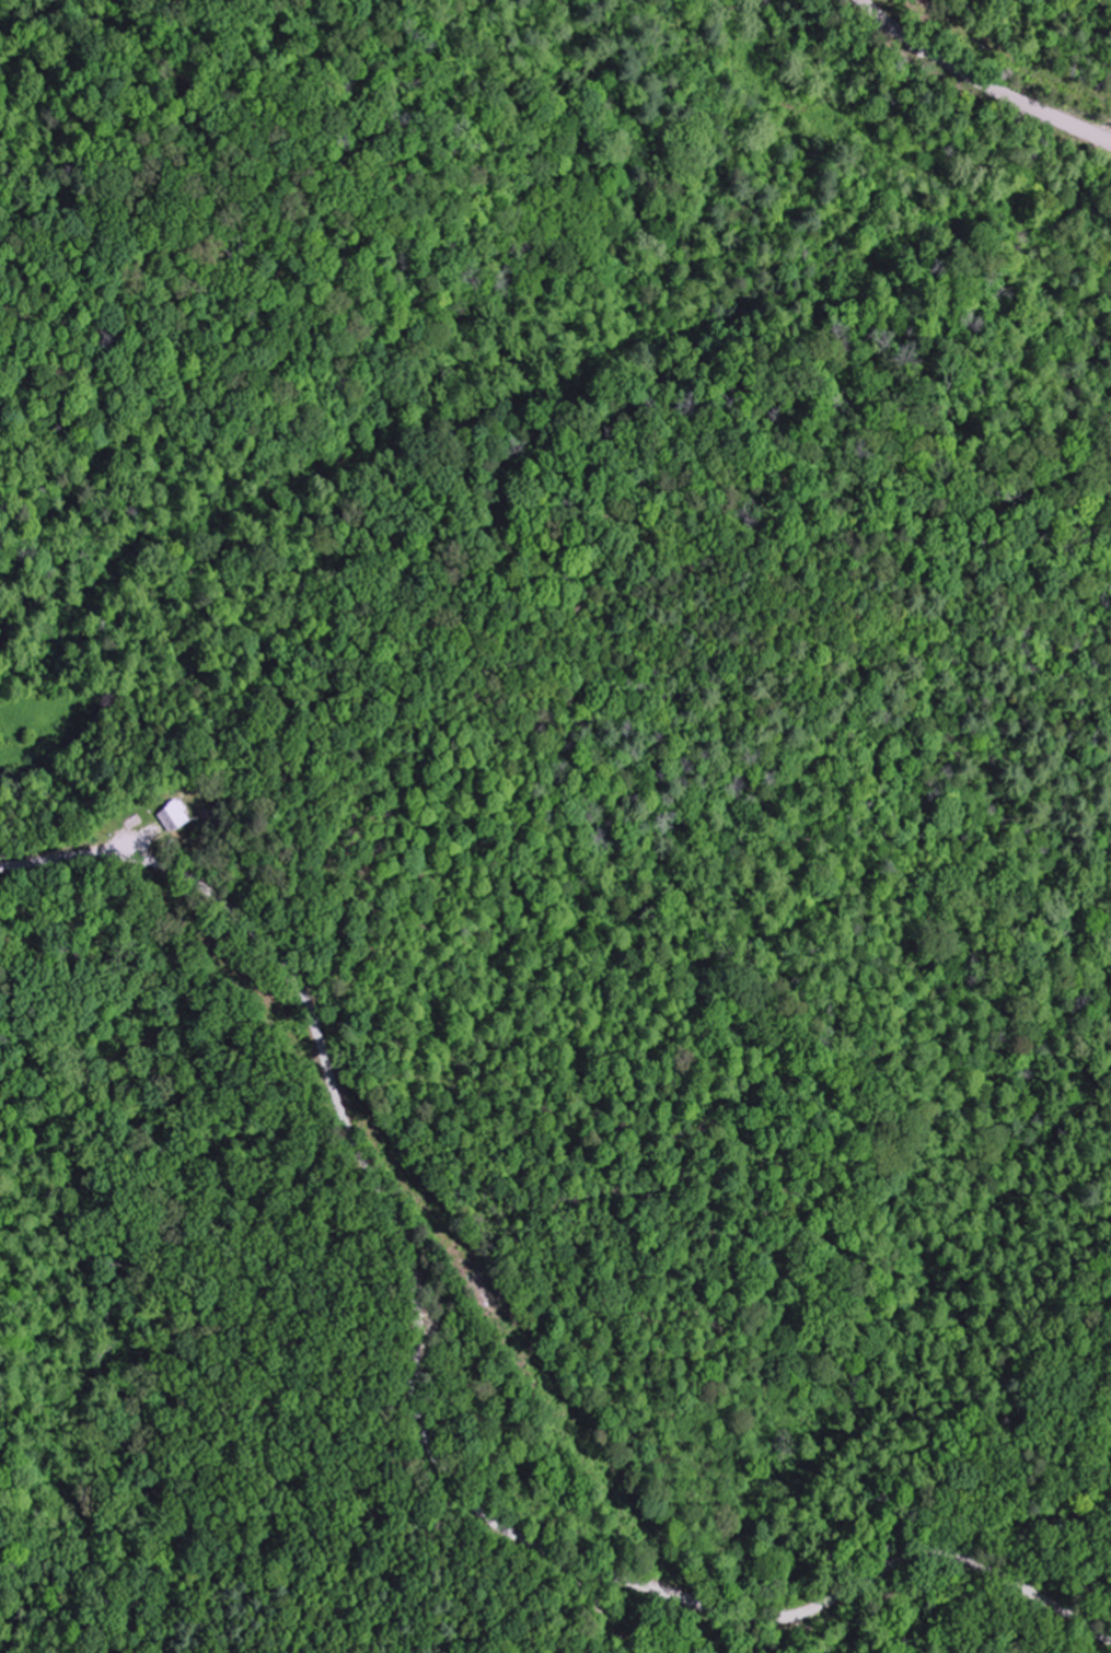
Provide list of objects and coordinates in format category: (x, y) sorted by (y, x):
road: (980, 81)
building: (174, 817)
road: (419, 1415)
road: (852, 1599)

